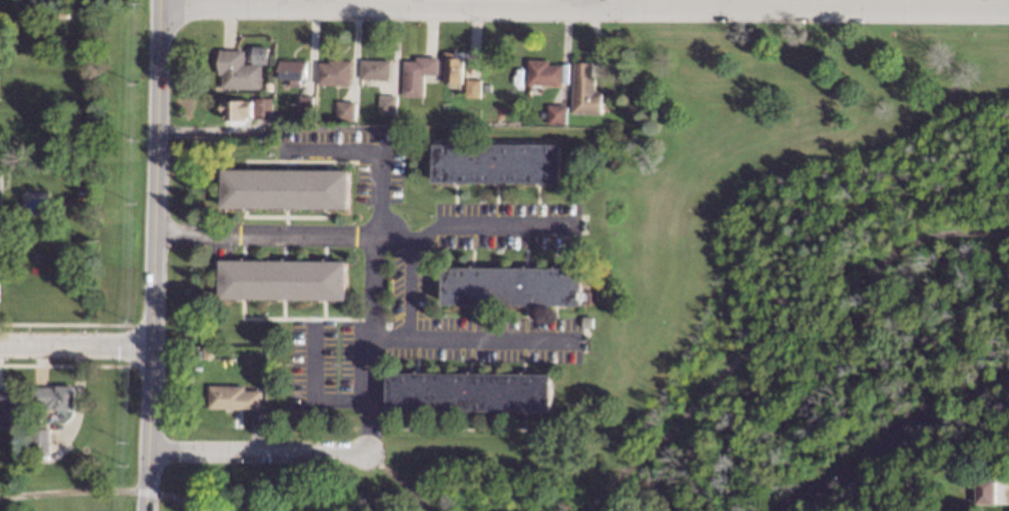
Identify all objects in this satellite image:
road: (614, 3)
road: (584, 6)
building: (63, 13)
building: (455, 67)
building: (378, 68)
building: (241, 70)
building: (295, 70)
building: (338, 72)
building: (548, 72)
building: (420, 74)
building: (475, 87)
building: (489, 87)
building: (588, 89)
building: (308, 103)
building: (390, 103)
building: (266, 107)
building: (240, 109)
building: (349, 109)
building: (560, 113)
building: (311, 120)
building: (499, 163)
building: (0, 175)
building: (288, 188)
building: (1, 228)
road: (262, 228)
road: (471, 229)
road: (371, 254)
road: (151, 255)
building: (285, 279)
building: (516, 285)
park: (759, 291)
building: (590, 321)
road: (774, 333)
road: (467, 338)
road: (74, 344)
road: (310, 390)
building: (473, 391)
building: (53, 396)
building: (236, 397)
building: (9, 407)
building: (35, 417)
river: (894, 431)
building: (39, 439)
road: (253, 453)
building: (18, 456)
road: (397, 479)
park: (68, 488)
road: (66, 490)
building: (988, 490)
road: (144, 493)
road: (174, 497)

